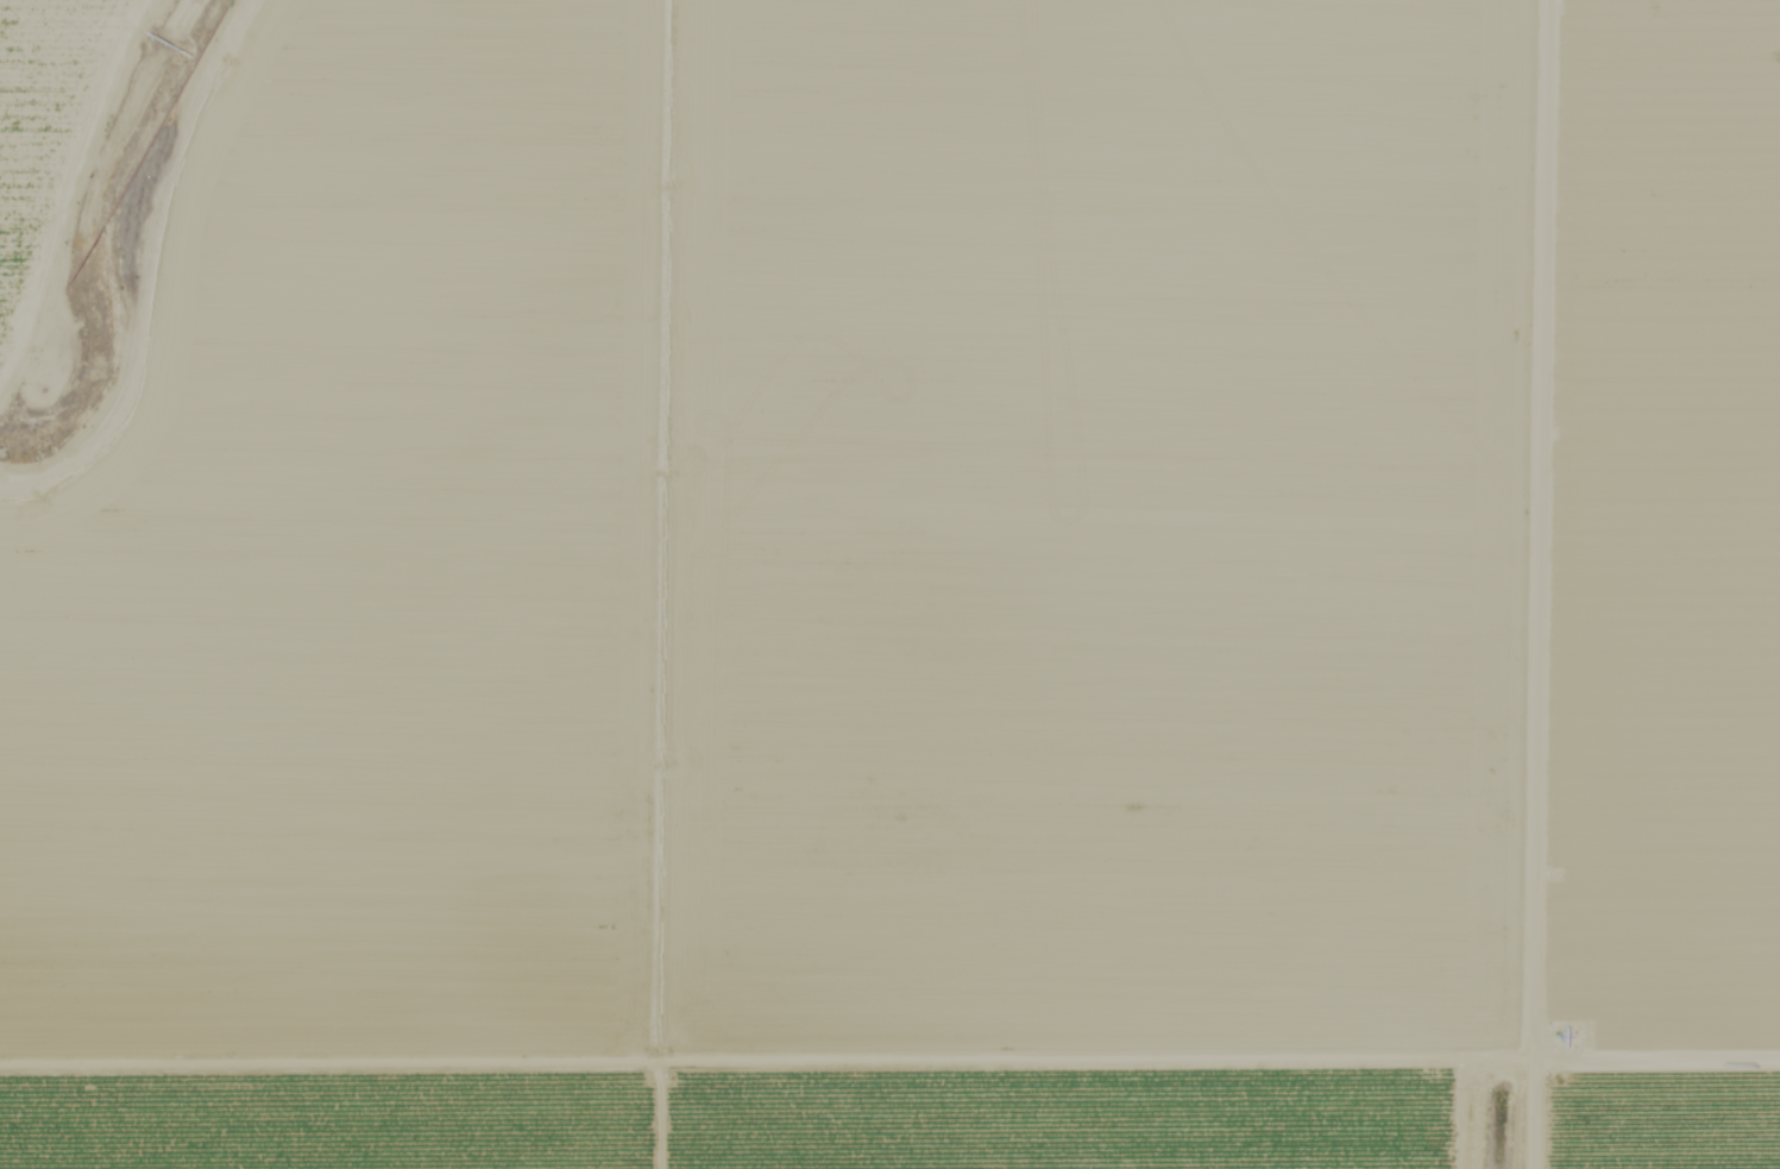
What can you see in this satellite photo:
road: (71, 194)
crop: (1672, 538)
crop: (793, 591)
crop: (1671, 1121)

